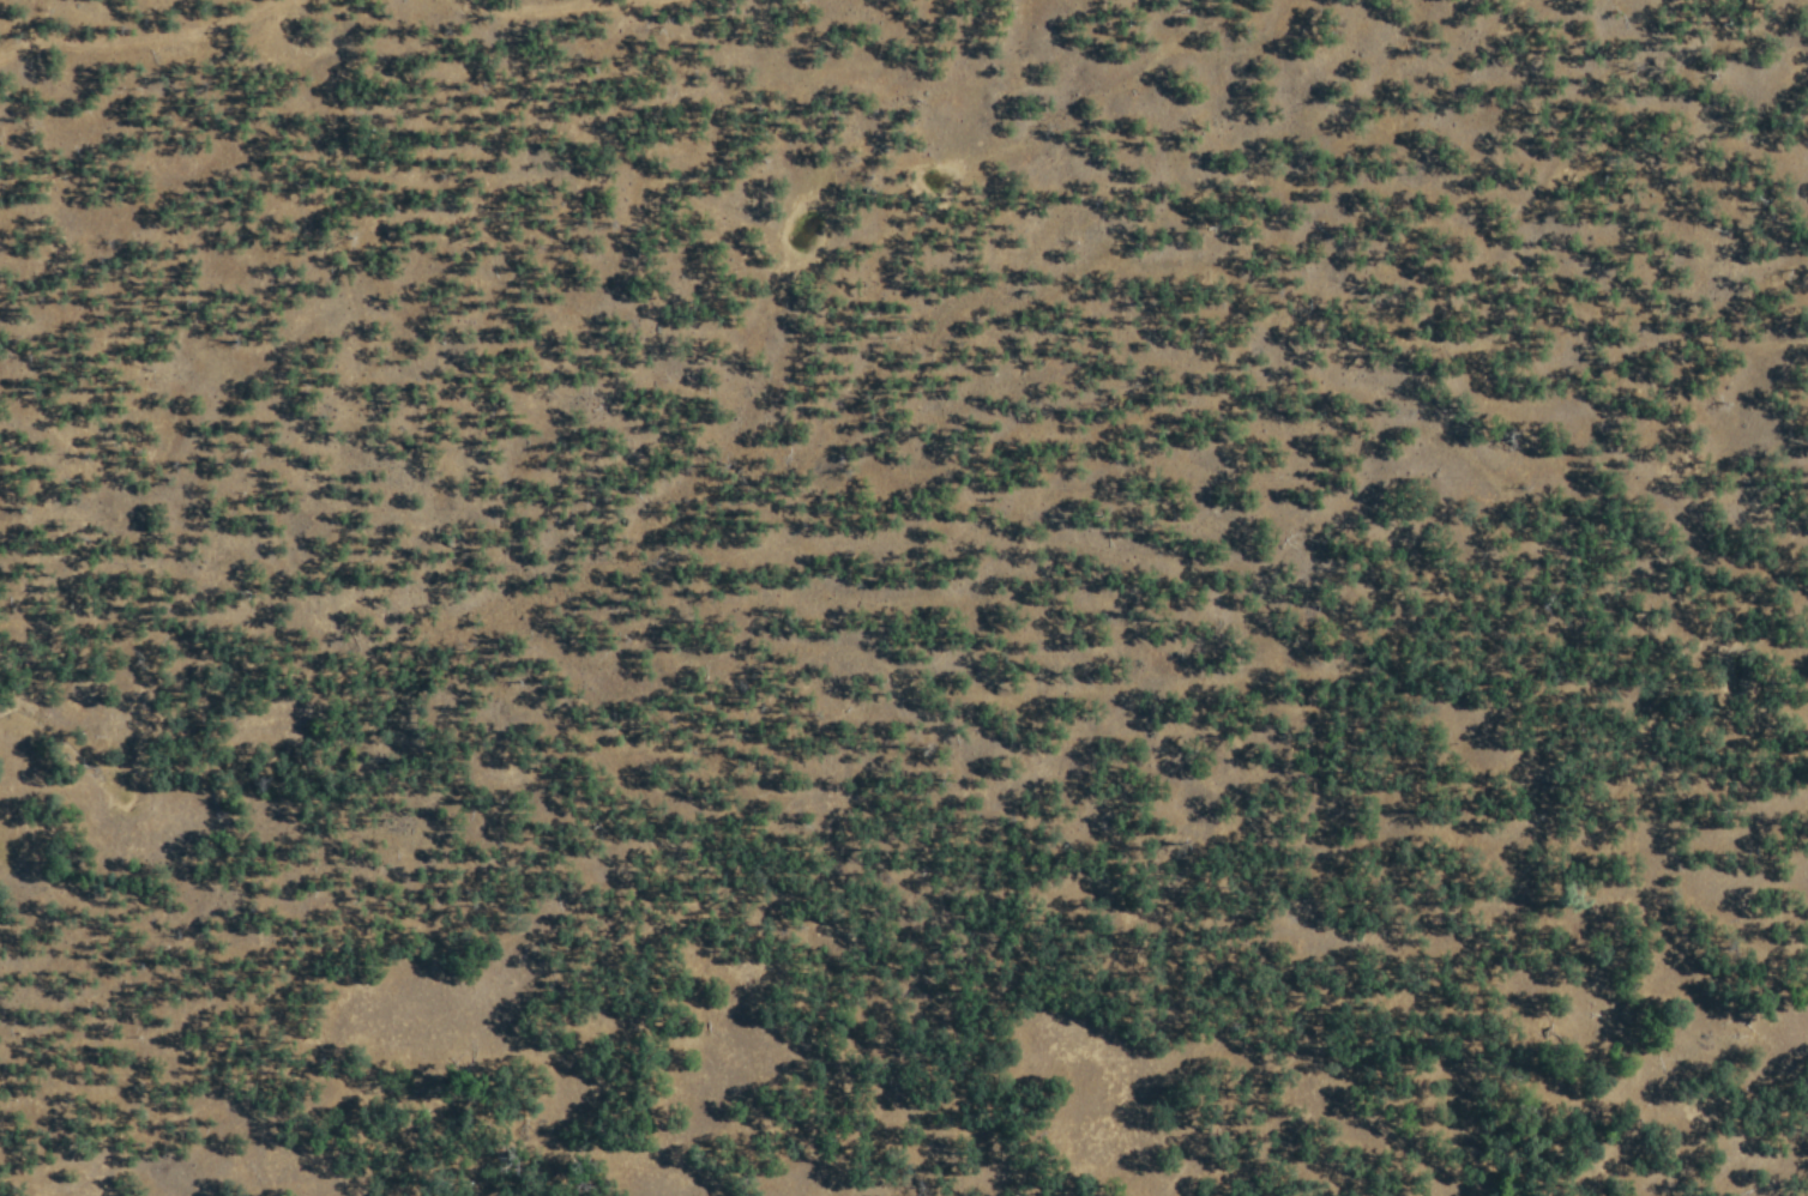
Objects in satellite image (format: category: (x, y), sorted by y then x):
road: (1802, 1192)

